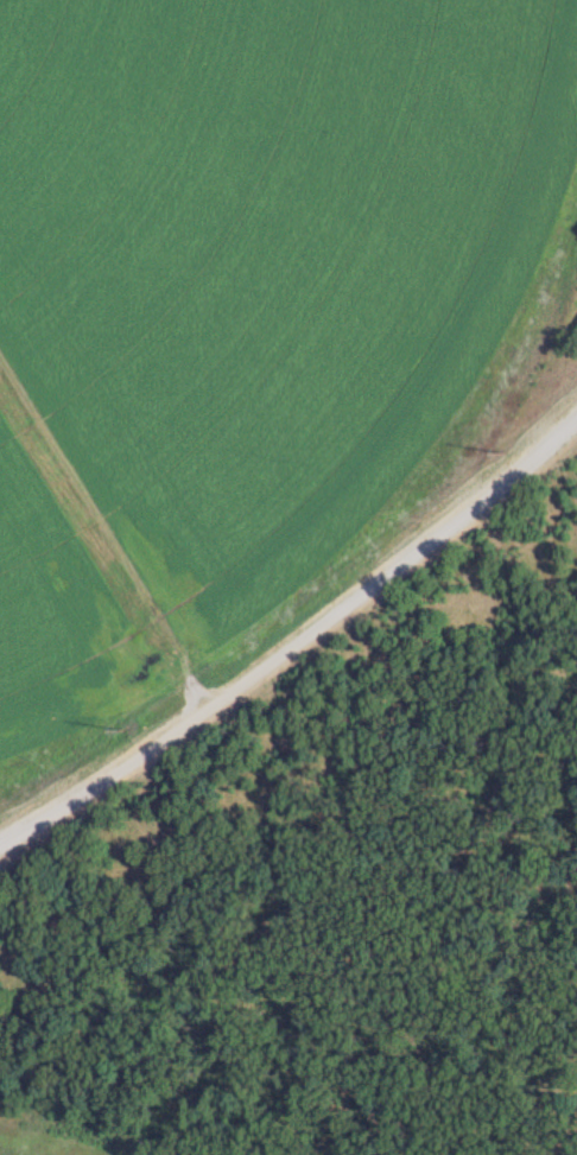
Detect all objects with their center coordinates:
wastewater plant: (288, 577)
road: (296, 640)

